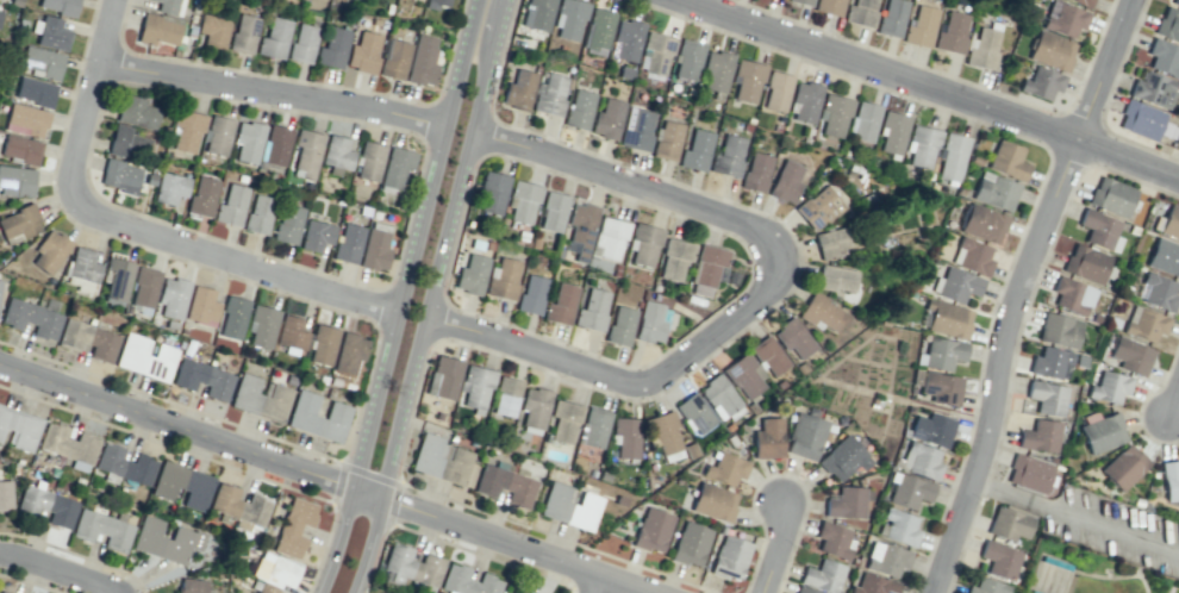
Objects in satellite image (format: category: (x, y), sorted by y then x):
building: (801, 1)
building: (1084, 1)
building: (1175, 2)
building: (436, 4)
building: (58, 6)
building: (169, 6)
building: (829, 6)
building: (861, 12)
building: (0, 13)
building: (536, 14)
building: (892, 17)
building: (570, 18)
building: (1063, 18)
building: (1168, 24)
building: (921, 26)
building: (599, 29)
building: (157, 30)
building: (213, 30)
building: (50, 32)
building: (952, 32)
building: (244, 33)
building: (274, 38)
building: (626, 39)
building: (302, 43)
building: (332, 48)
building: (982, 48)
road: (504, 50)
building: (1050, 50)
building: (363, 52)
building: (656, 52)
building: (1164, 57)
building: (395, 58)
building: (687, 58)
building: (423, 61)
building: (40, 62)
building: (716, 70)
building: (625, 73)
road: (849, 76)
building: (747, 79)
building: (1041, 83)
road: (932, 87)
building: (518, 89)
building: (1153, 89)
building: (35, 90)
building: (775, 90)
road: (268, 93)
building: (549, 95)
building: (805, 101)
building: (579, 110)
building: (137, 112)
building: (835, 113)
building: (607, 118)
building: (25, 120)
building: (865, 120)
building: (1143, 121)
building: (637, 129)
building: (187, 130)
building: (894, 131)
building: (217, 135)
building: (248, 141)
building: (666, 141)
building: (127, 142)
building: (275, 144)
building: (923, 145)
building: (20, 149)
building: (695, 150)
building: (306, 151)
building: (336, 154)
building: (728, 156)
building: (952, 157)
building: (975, 160)
building: (1008, 160)
building: (369, 161)
road: (620, 162)
building: (395, 167)
building: (756, 171)
building: (120, 175)
building: (15, 181)
building: (785, 181)
building: (170, 188)
building: (960, 191)
building: (994, 191)
building: (492, 192)
building: (202, 195)
building: (1111, 195)
building: (866, 199)
building: (523, 200)
building: (231, 205)
building: (818, 208)
building: (553, 211)
building: (258, 213)
building: (19, 221)
building: (1168, 221)
building: (468, 223)
building: (288, 224)
building: (982, 224)
road: (133, 229)
building: (580, 229)
building: (1099, 230)
building: (1133, 230)
building: (316, 235)
building: (522, 236)
building: (609, 237)
road: (1052, 239)
building: (834, 241)
building: (885, 241)
building: (348, 243)
building: (535, 243)
building: (643, 243)
building: (476, 244)
building: (488, 244)
road: (410, 246)
road: (437, 248)
building: (49, 250)
building: (375, 250)
building: (559, 252)
building: (972, 256)
building: (1164, 256)
building: (674, 257)
building: (83, 264)
building: (1087, 264)
building: (616, 266)
building: (707, 268)
building: (615, 273)
building: (472, 274)
building: (835, 277)
building: (117, 279)
building: (503, 279)
building: (0, 280)
building: (955, 283)
building: (144, 287)
building: (655, 287)
road: (1013, 291)
building: (1156, 291)
building: (531, 294)
building: (1072, 294)
building: (655, 296)
road: (757, 296)
building: (173, 298)
building: (921, 298)
building: (561, 304)
building: (201, 306)
building: (591, 310)
building: (819, 312)
building: (1096, 317)
building: (31, 318)
building: (232, 318)
building: (946, 318)
building: (650, 322)
building: (1112, 323)
building: (1144, 324)
building: (619, 325)
building: (261, 326)
road: (690, 330)
building: (1059, 330)
building: (292, 335)
building: (792, 337)
building: (89, 339)
building: (322, 344)
building: (349, 352)
building: (940, 352)
building: (768, 355)
building: (1130, 355)
building: (145, 357)
building: (1049, 361)
building: (1080, 361)
road: (1167, 367)
building: (800, 368)
building: (743, 375)
building: (916, 376)
building: (443, 377)
building: (204, 379)
road: (978, 379)
building: (779, 383)
building: (475, 386)
building: (1109, 387)
road: (663, 388)
building: (941, 388)
building: (911, 389)
building: (505, 395)
building: (1047, 397)
building: (260, 398)
building: (719, 398)
road: (1172, 398)
building: (534, 406)
building: (751, 407)
building: (909, 410)
building: (810, 411)
building: (694, 412)
building: (438, 416)
building: (318, 417)
building: (790, 417)
building: (562, 420)
building: (840, 420)
building: (728, 426)
building: (19, 427)
building: (593, 427)
road: (1140, 427)
road: (173, 429)
building: (931, 429)
building: (662, 431)
building: (1102, 431)
building: (829, 432)
building: (451, 436)
building: (624, 436)
building: (805, 436)
building: (1040, 436)
building: (767, 438)
building: (730, 439)
road: (1178, 441)
building: (68, 445)
building: (690, 449)
building: (428, 454)
building: (842, 458)
building: (1053, 460)
building: (921, 461)
building: (124, 463)
building: (453, 464)
building: (1124, 466)
building: (724, 468)
building: (592, 473)
building: (1028, 473)
building: (603, 475)
building: (1171, 479)
building: (489, 480)
building: (860, 481)
building: (182, 485)
road: (801, 485)
building: (518, 489)
building: (909, 491)
building: (5, 494)
building: (619, 500)
building: (555, 501)
building: (713, 501)
building: (1137, 501)
building: (847, 503)
road: (978, 503)
building: (48, 505)
building: (239, 506)
building: (582, 511)
road: (494, 514)
road: (1073, 518)
building: (1009, 524)
building: (294, 526)
building: (899, 526)
building: (104, 529)
building: (720, 529)
parking lot: (1113, 529)
building: (651, 530)
road: (498, 539)
building: (832, 539)
building: (166, 541)
road: (330, 543)
road: (362, 544)
building: (690, 544)
road: (774, 547)
road: (1050, 556)
building: (729, 557)
building: (886, 558)
building: (999, 560)
building: (1055, 563)
road: (753, 564)
building: (411, 567)
road: (56, 569)
road: (1137, 570)
building: (274, 573)
building: (823, 575)
park: (1046, 575)
park: (1038, 576)
road: (1102, 576)
park: (1054, 579)
park: (1060, 579)
building: (467, 581)
road: (1142, 582)
road: (591, 583)
building: (874, 585)
building: (193, 586)
building: (986, 586)
building: (805, 589)
park: (1169, 589)
building: (1, 592)
road: (743, 592)
building: (1033, 592)

